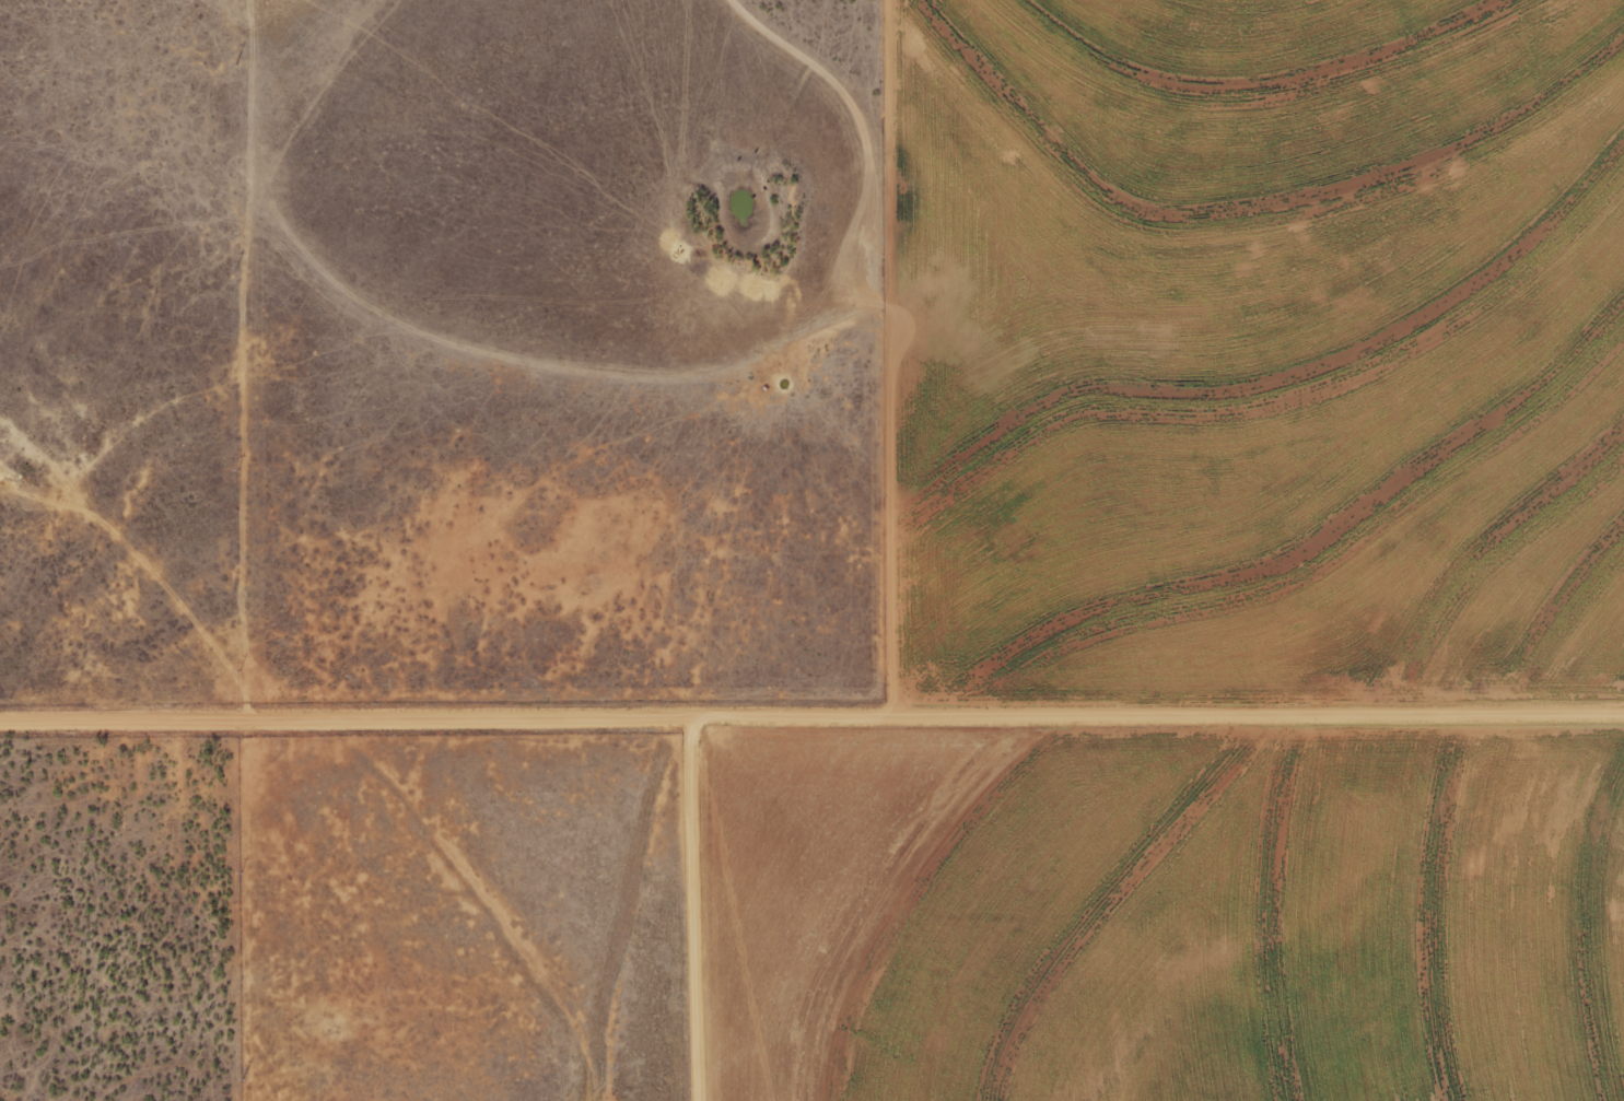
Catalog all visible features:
road: (811, 712)
road: (718, 906)

